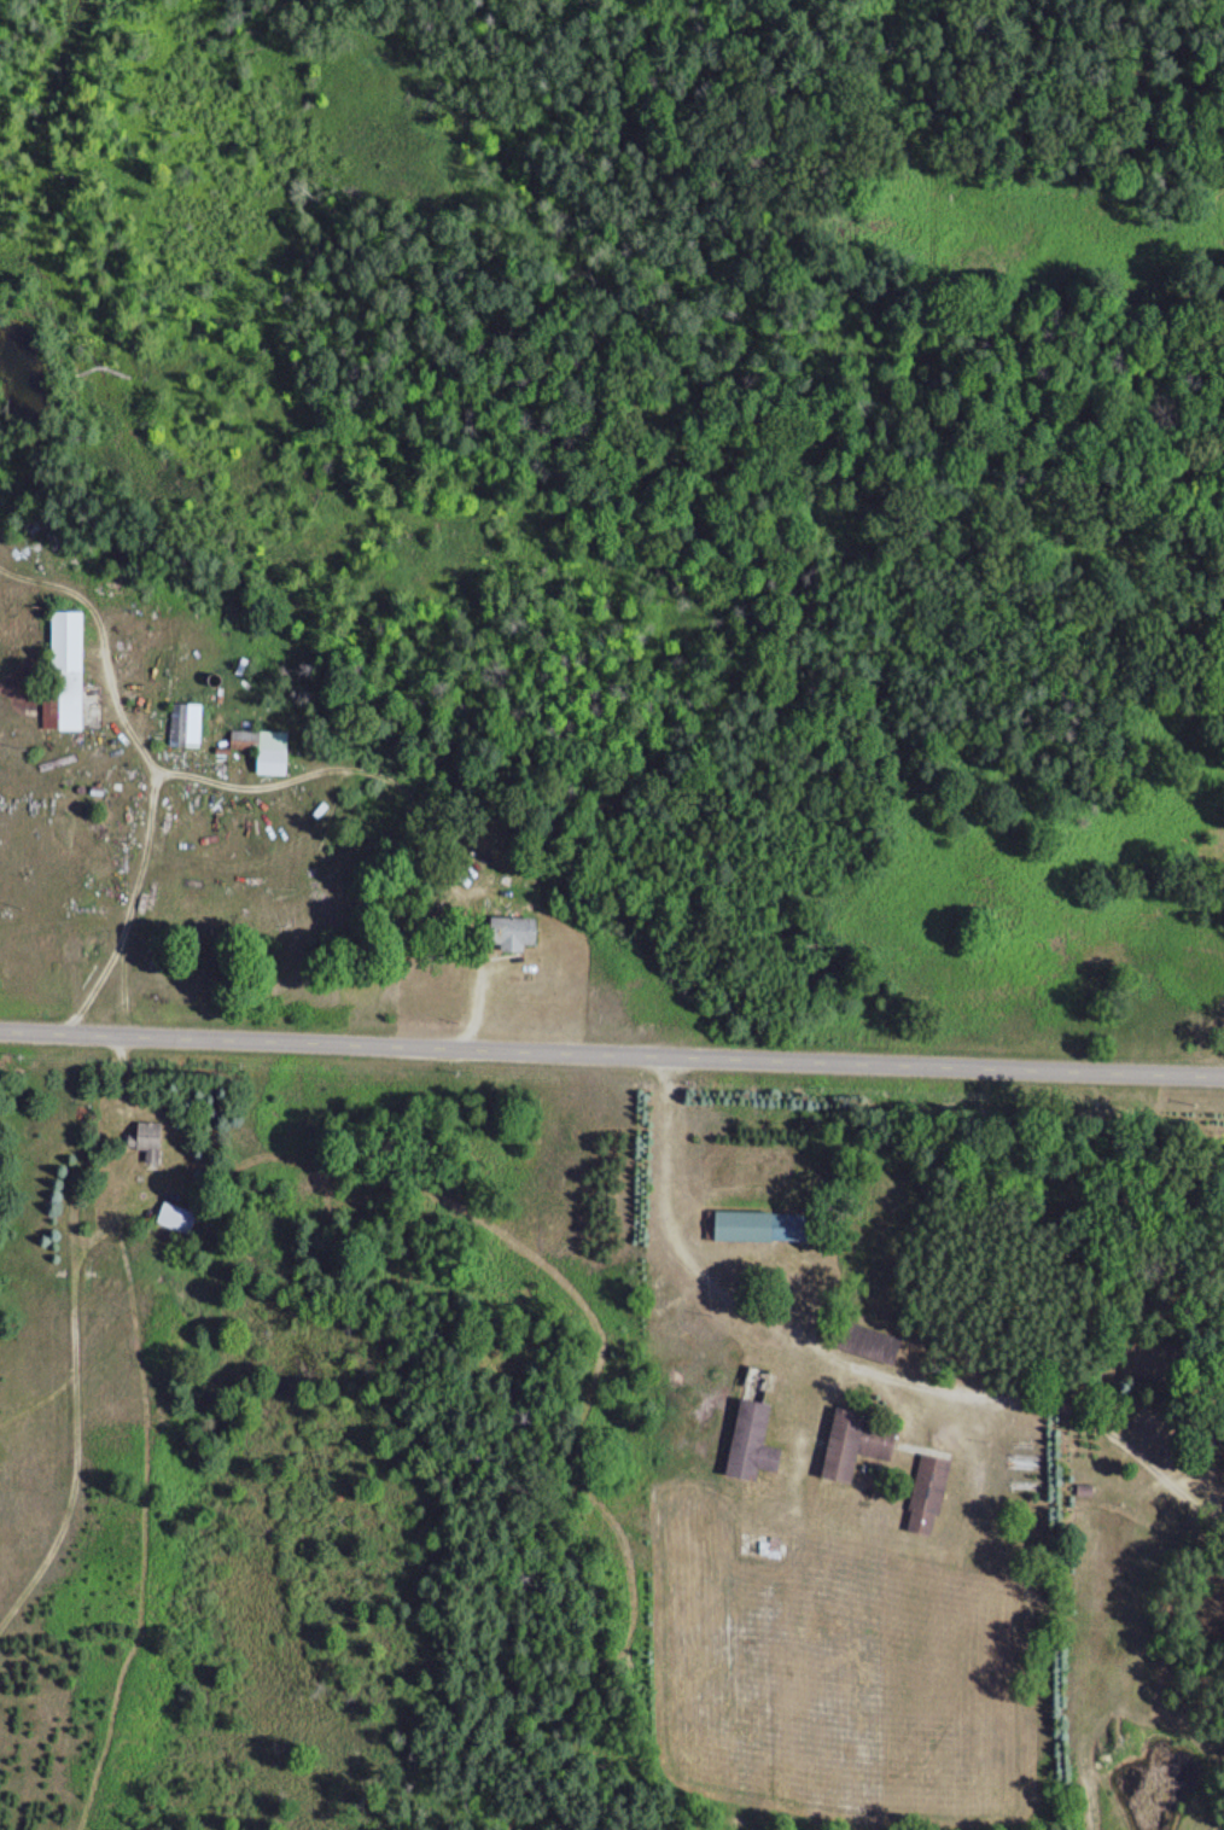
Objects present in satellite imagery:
building: (65, 670)
building: (183, 724)
building: (260, 748)
building: (509, 932)
road: (611, 1051)
building: (145, 1140)
building: (176, 1217)
building: (756, 1225)
building: (852, 1443)
building: (746, 1444)
building: (925, 1494)

